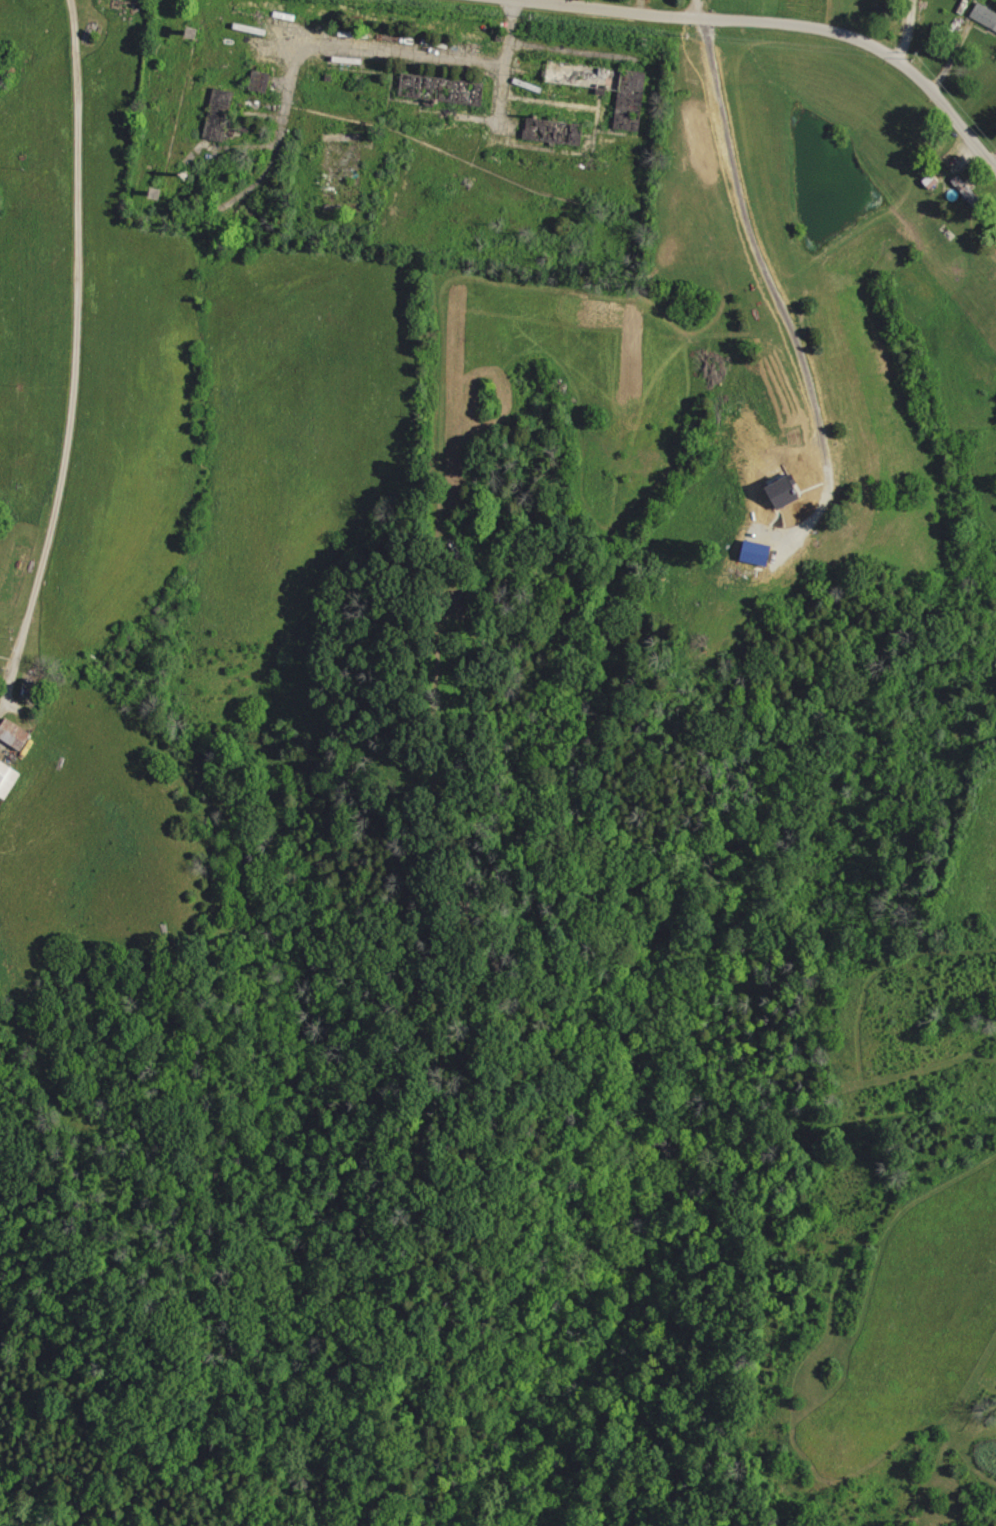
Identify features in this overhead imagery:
road: (637, 9)
road: (693, 11)
building: (985, 14)
road: (765, 25)
building: (263, 80)
building: (607, 86)
building: (221, 124)
road: (76, 350)
building: (787, 492)
building: (760, 552)
building: (16, 733)
building: (8, 778)

